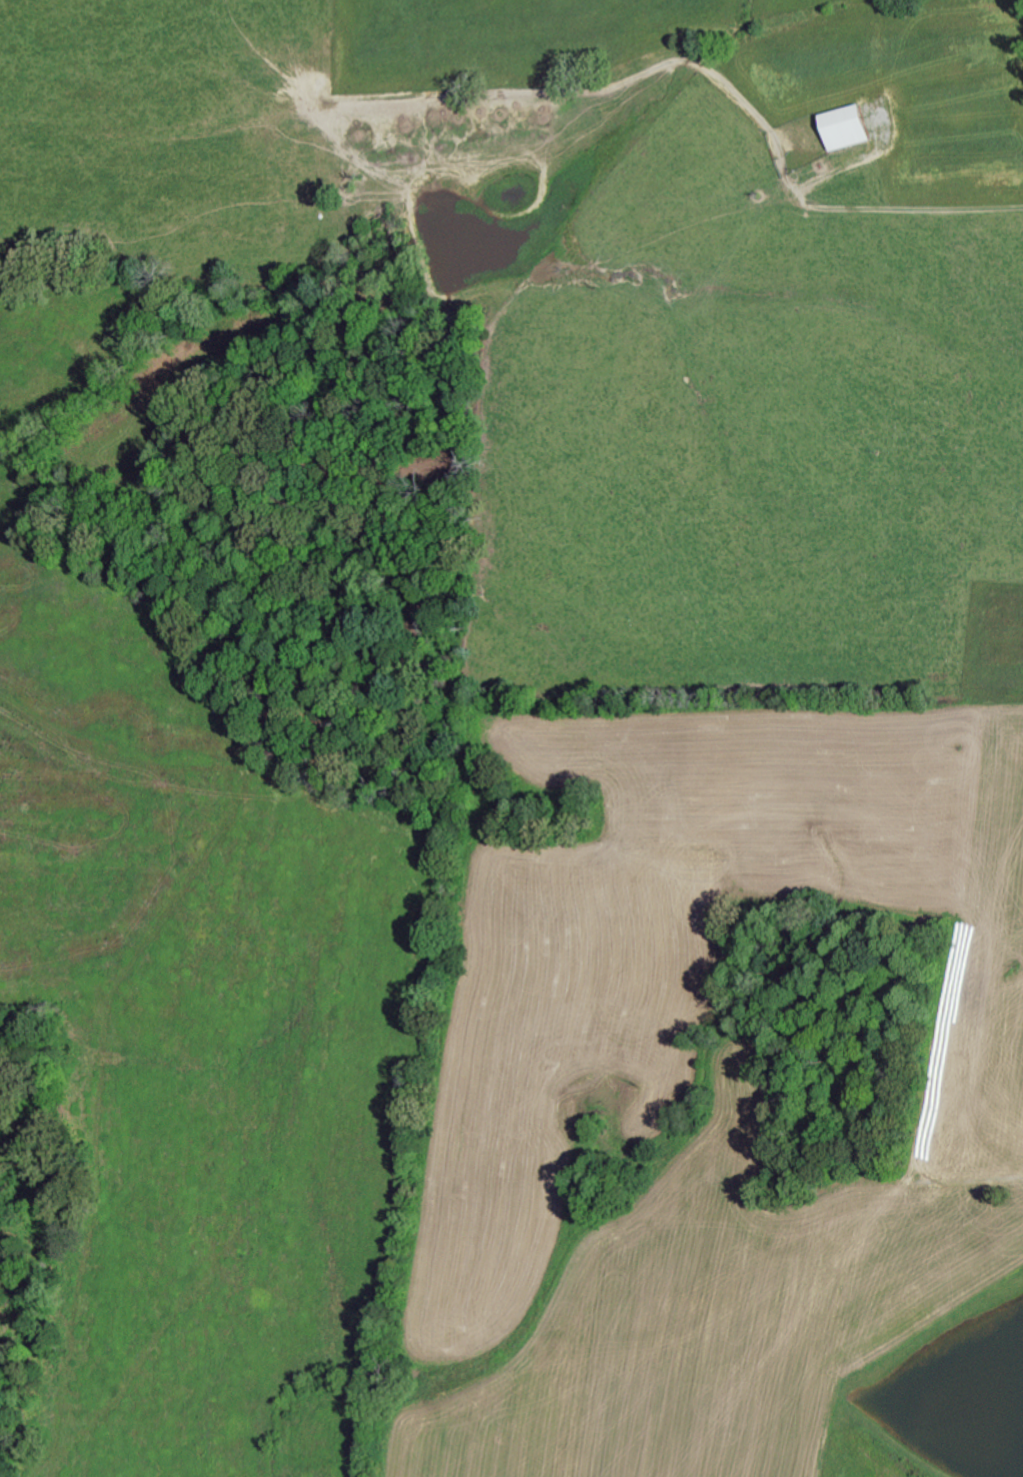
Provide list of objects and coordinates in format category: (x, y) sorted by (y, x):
road: (532, 124)
building: (850, 127)

